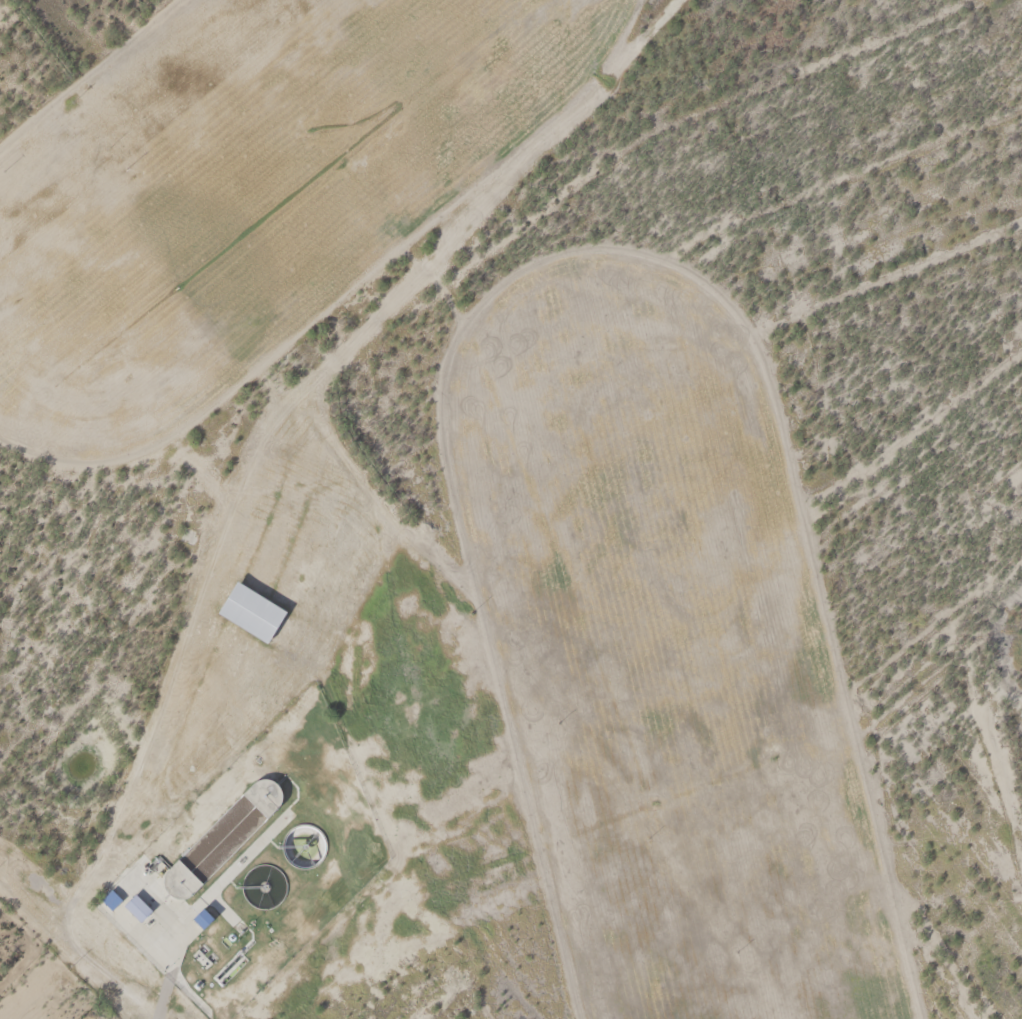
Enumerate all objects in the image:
road: (407, 512)
building: (247, 606)
building: (294, 844)
building: (106, 894)
building: (133, 902)
road: (168, 995)

